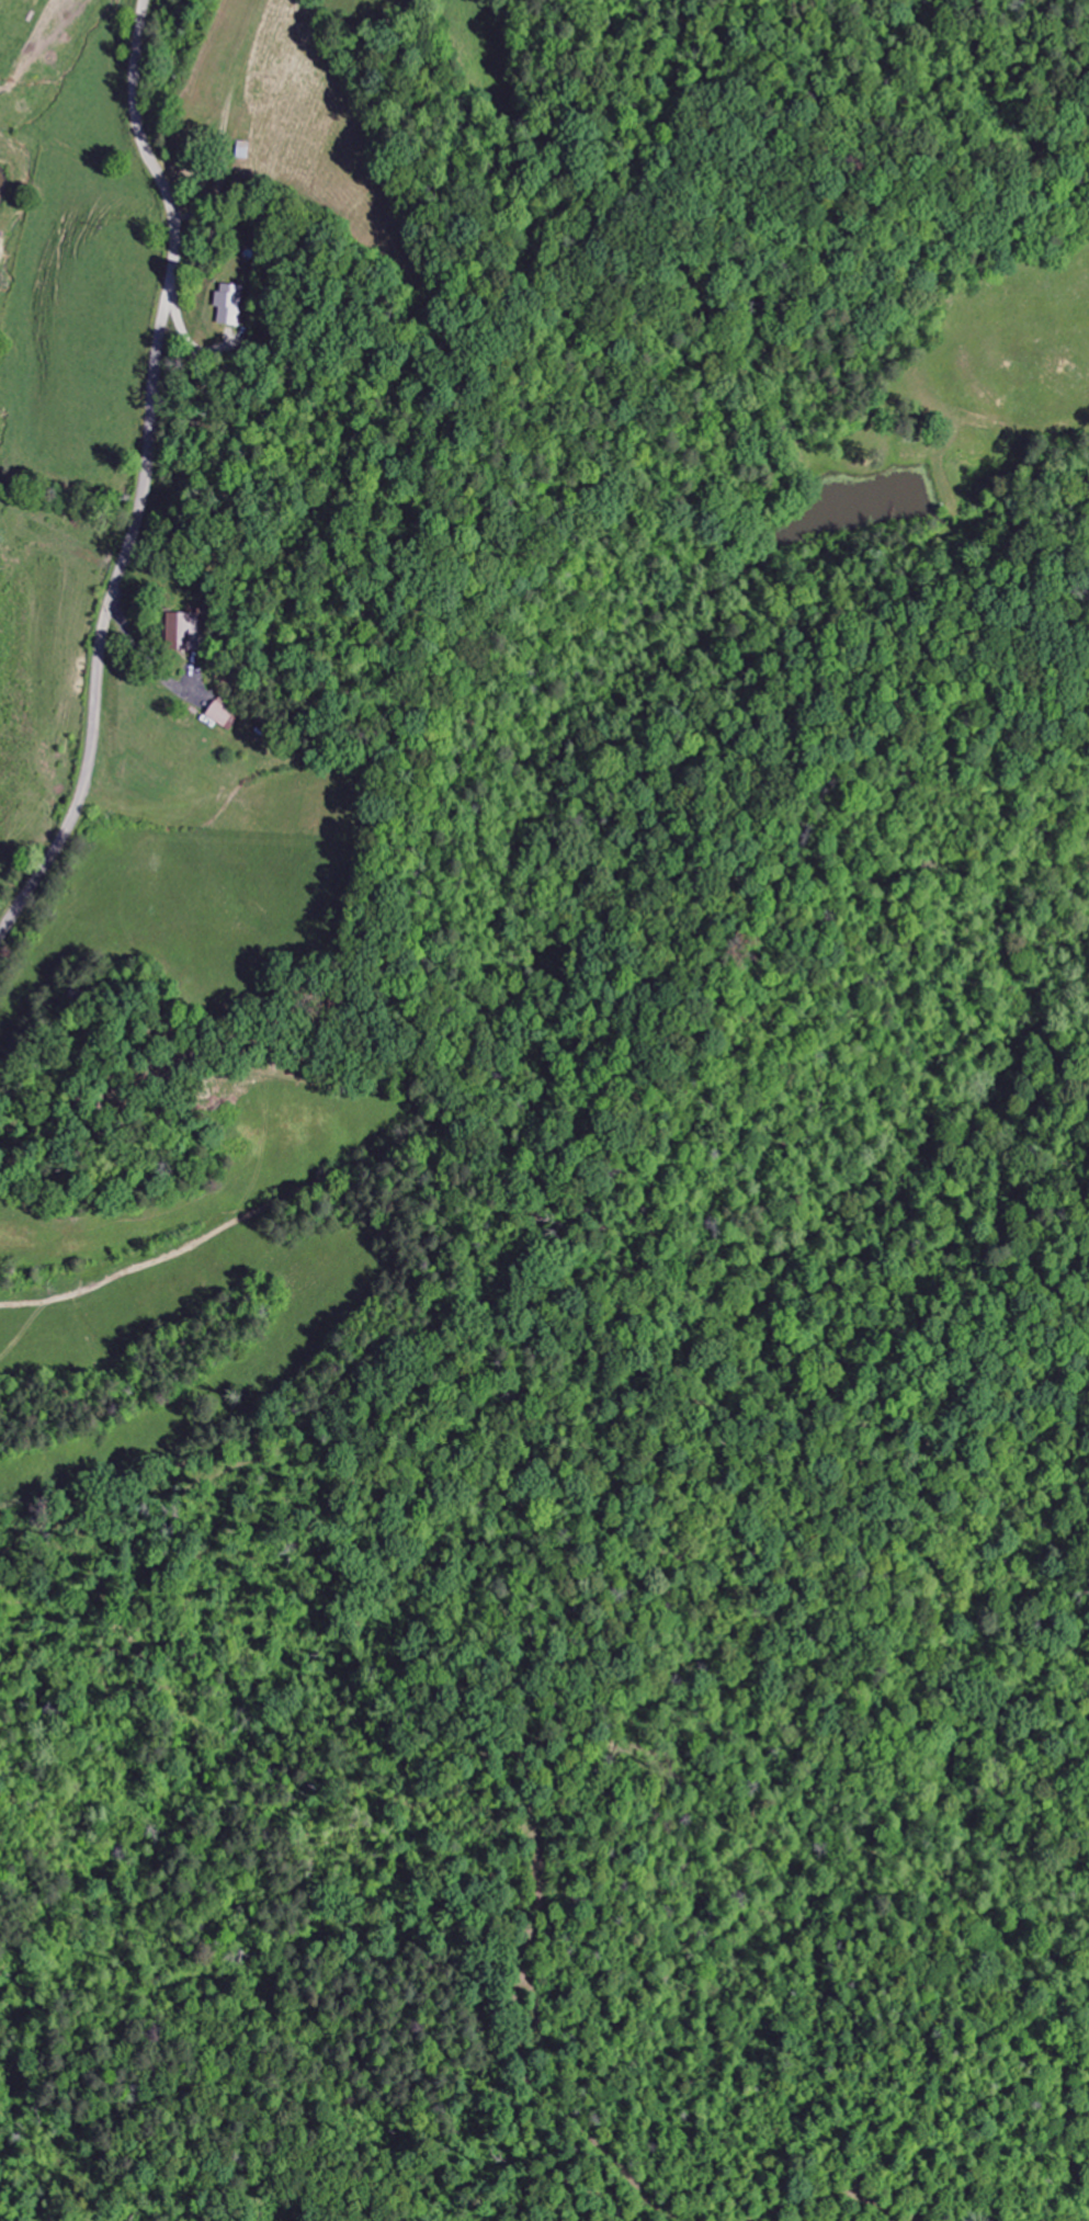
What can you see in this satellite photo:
building: (228, 304)
road: (145, 479)
building: (182, 632)
building: (218, 714)

